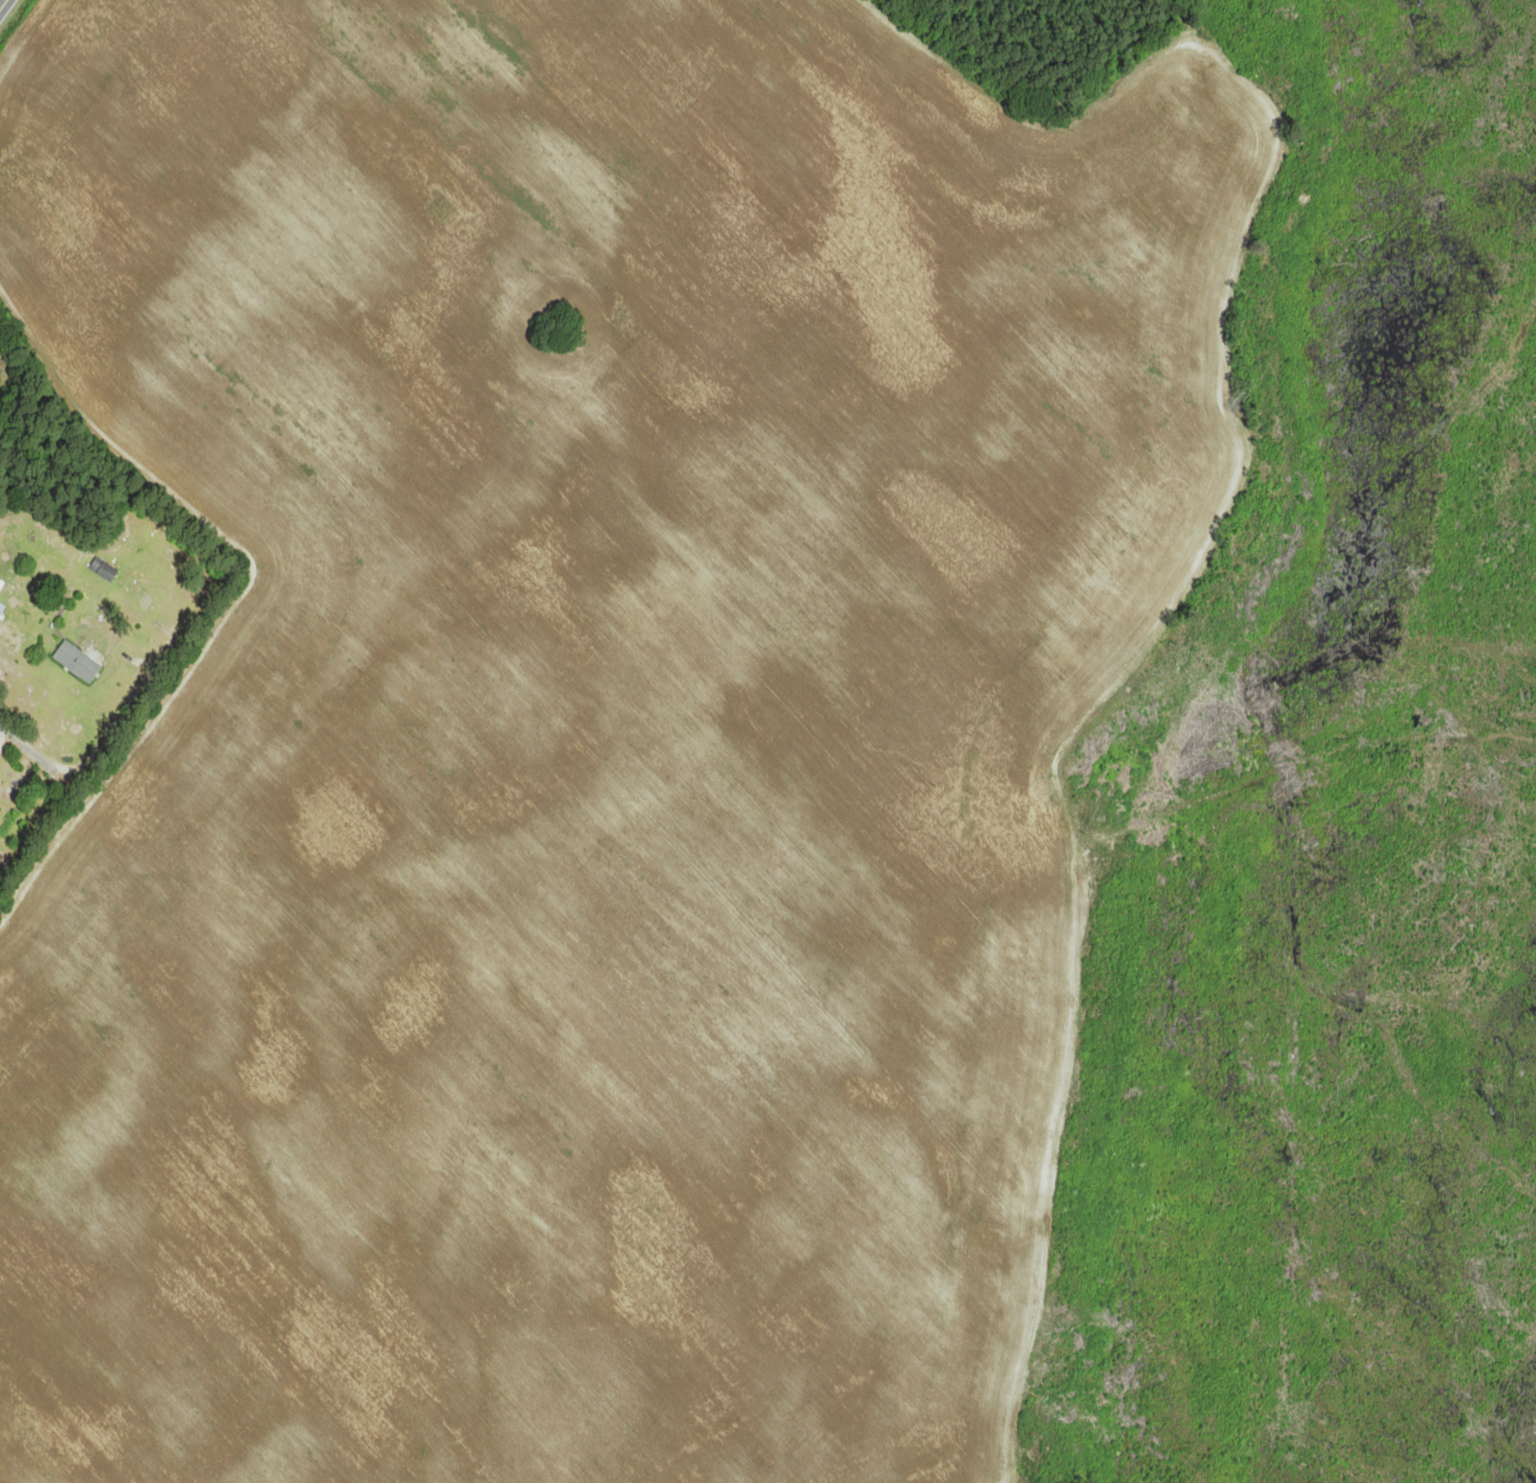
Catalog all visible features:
road: (3, 5)
building: (102, 570)
building: (78, 662)
road: (42, 760)

